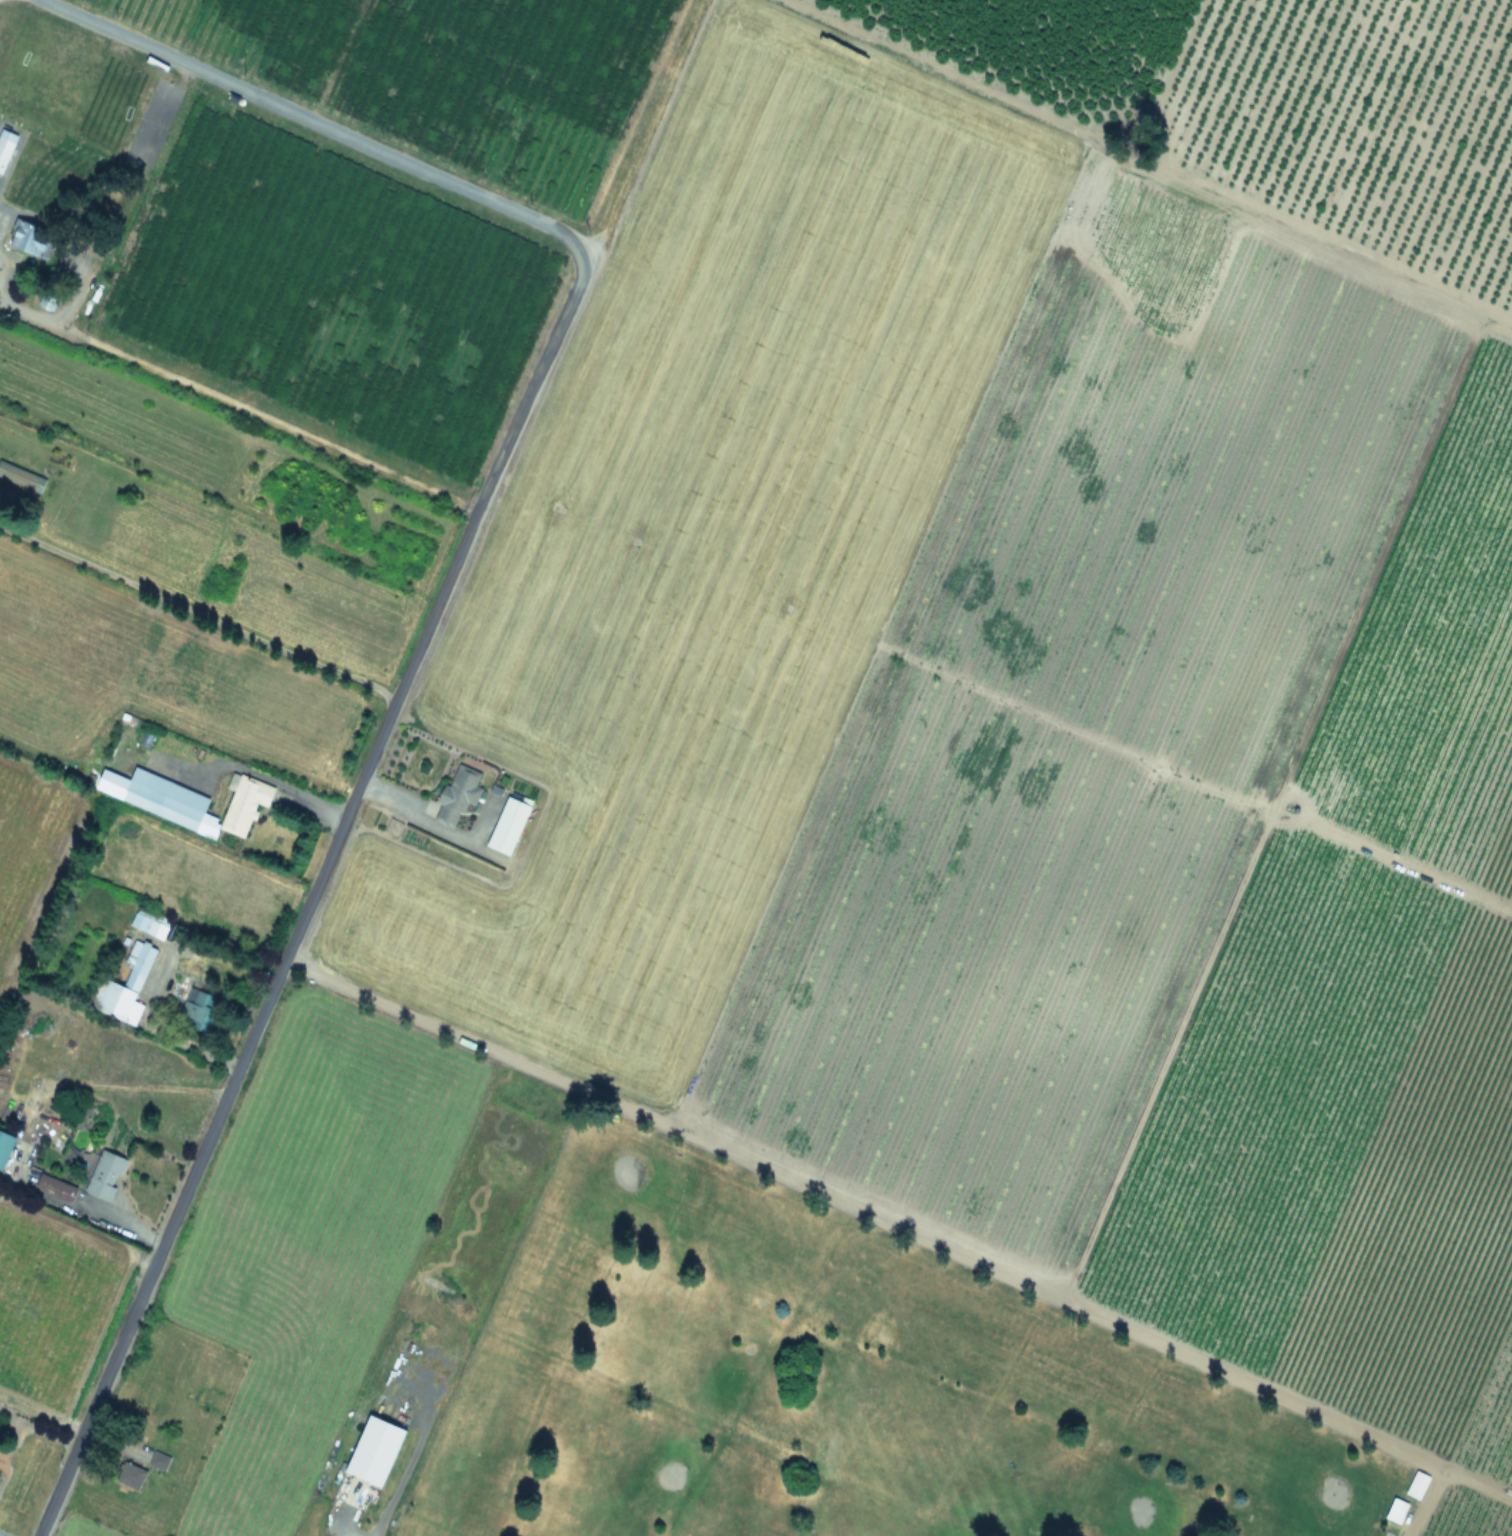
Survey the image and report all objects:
road: (647, 122)
road: (318, 123)
building: (5, 145)
building: (26, 239)
building: (45, 300)
road: (238, 408)
building: (21, 477)
road: (198, 614)
crop: (748, 689)
road: (249, 774)
building: (454, 795)
building: (160, 798)
building: (244, 805)
road: (417, 818)
building: (505, 823)
road: (315, 890)
building: (150, 924)
building: (124, 985)
building: (200, 1008)
road: (170, 1035)
building: (6, 1148)
building: (107, 1176)
building: (57, 1189)
road: (131, 1226)
park: (840, 1388)
building: (372, 1452)
building: (160, 1462)
building: (131, 1472)
building: (1415, 1484)
building: (1394, 1510)

